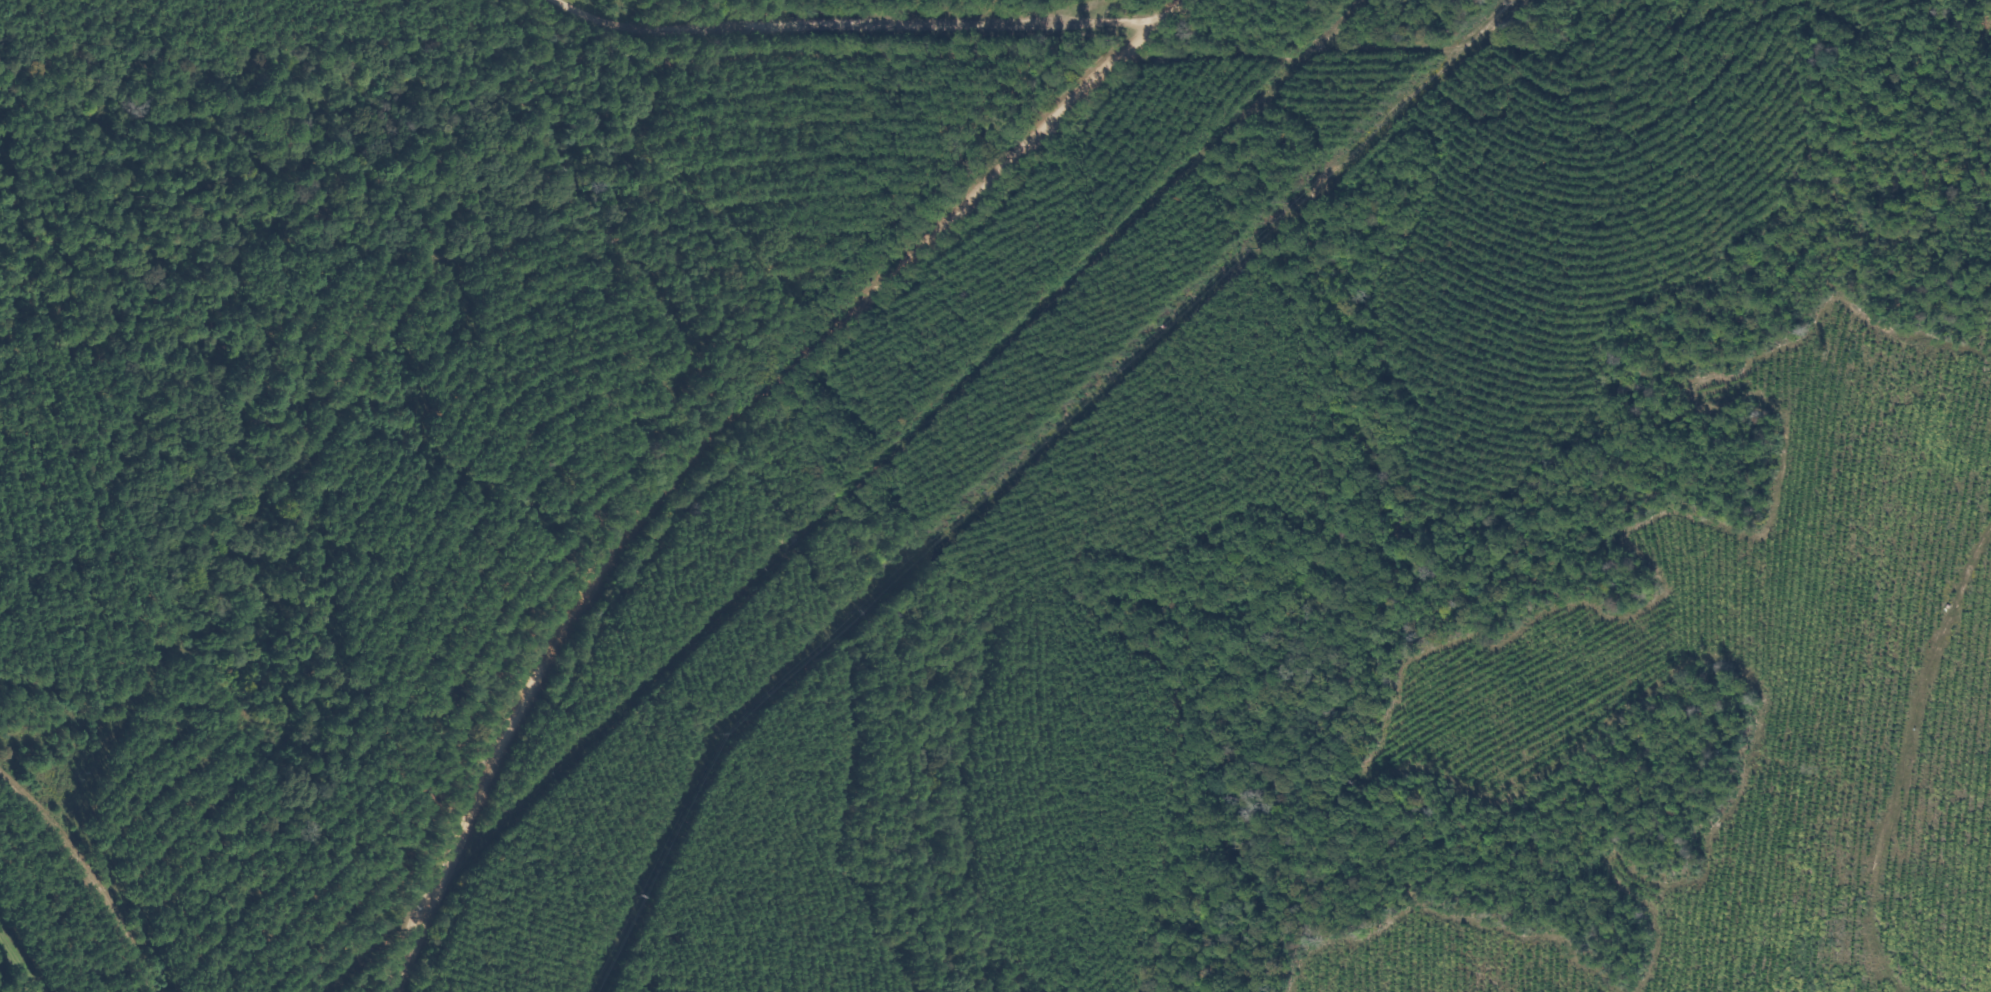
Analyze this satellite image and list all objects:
road: (617, 174)
road: (732, 421)
road: (156, 664)

